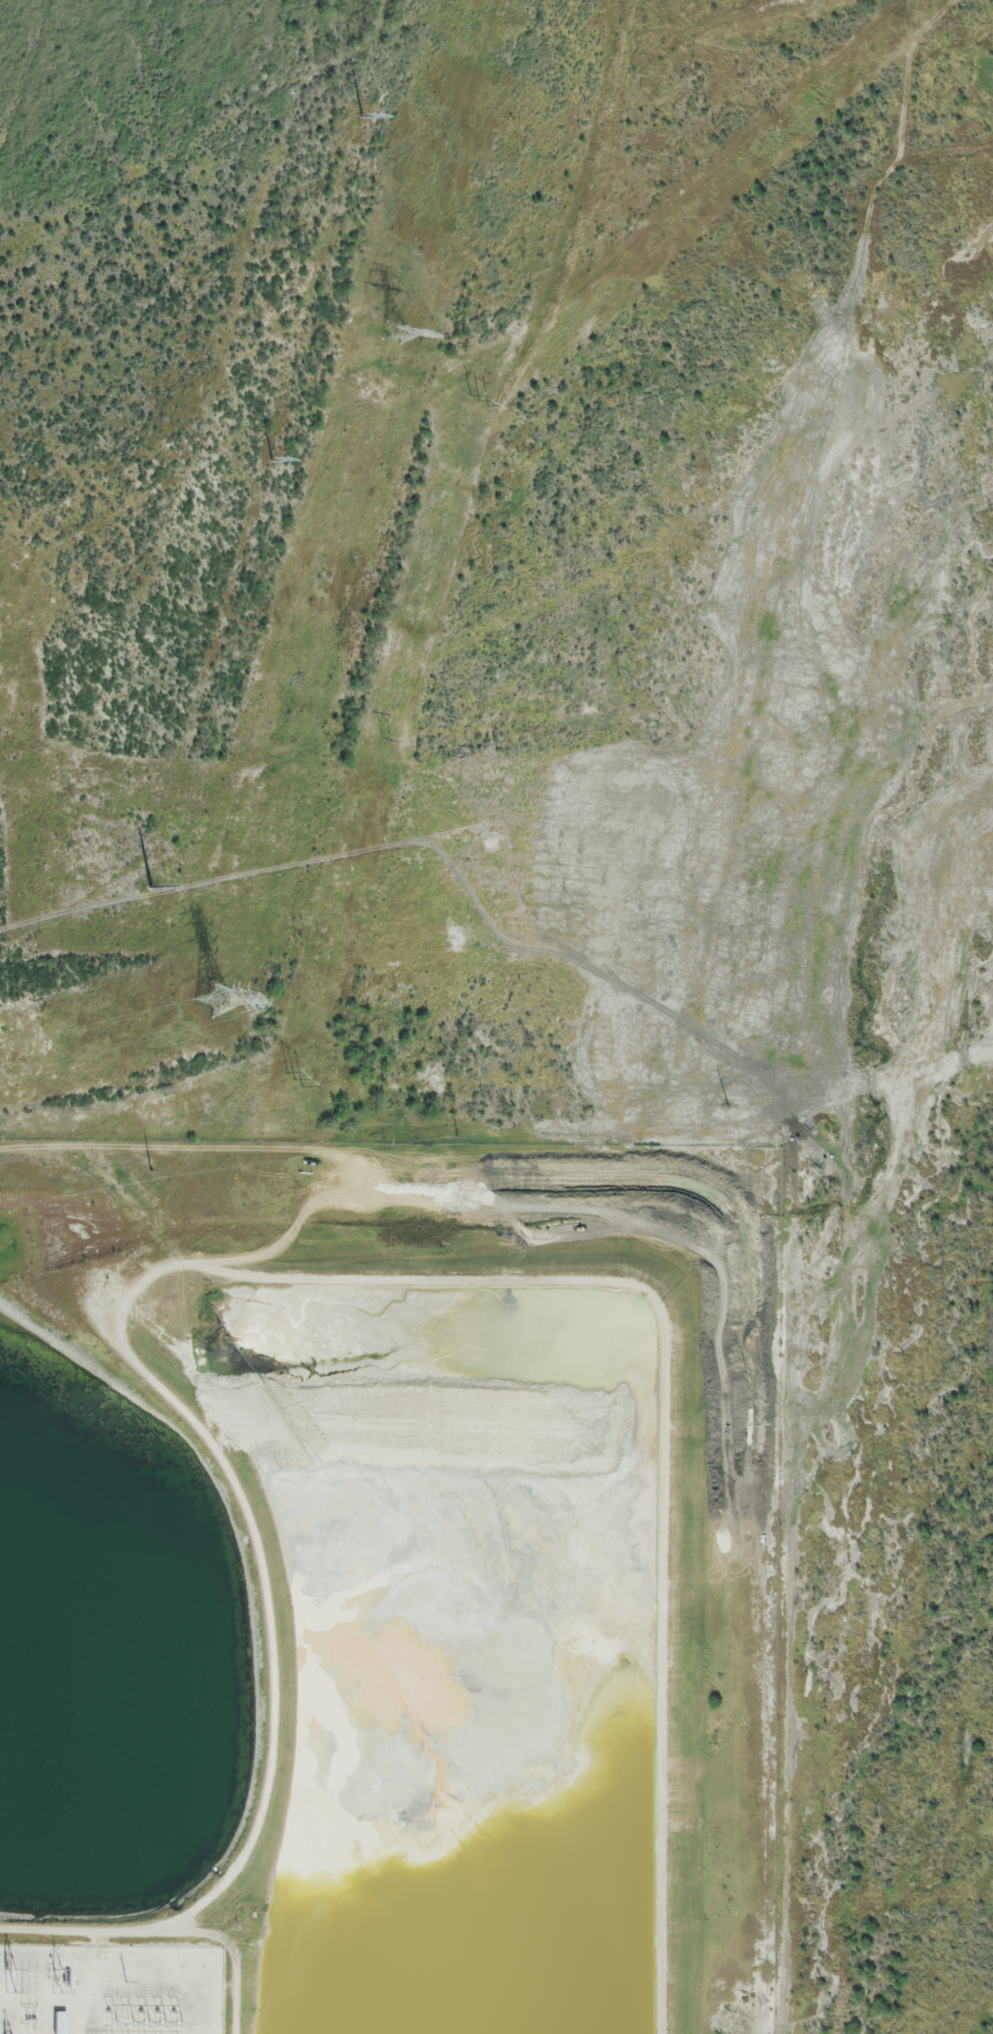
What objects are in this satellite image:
power tower: (349, 116)
power tower: (781, 128)
power tower: (395, 335)
power tower: (470, 397)
power tower: (263, 465)
power tower: (388, 739)
power tower: (147, 889)
power tower: (213, 998)
power tower: (295, 1079)
power tower: (728, 1105)
power tower: (458, 1135)
power tower: (151, 1171)
power plant: (387, 1586)
power tower: (125, 1984)
power substation: (110, 1991)
building: (60, 2023)

